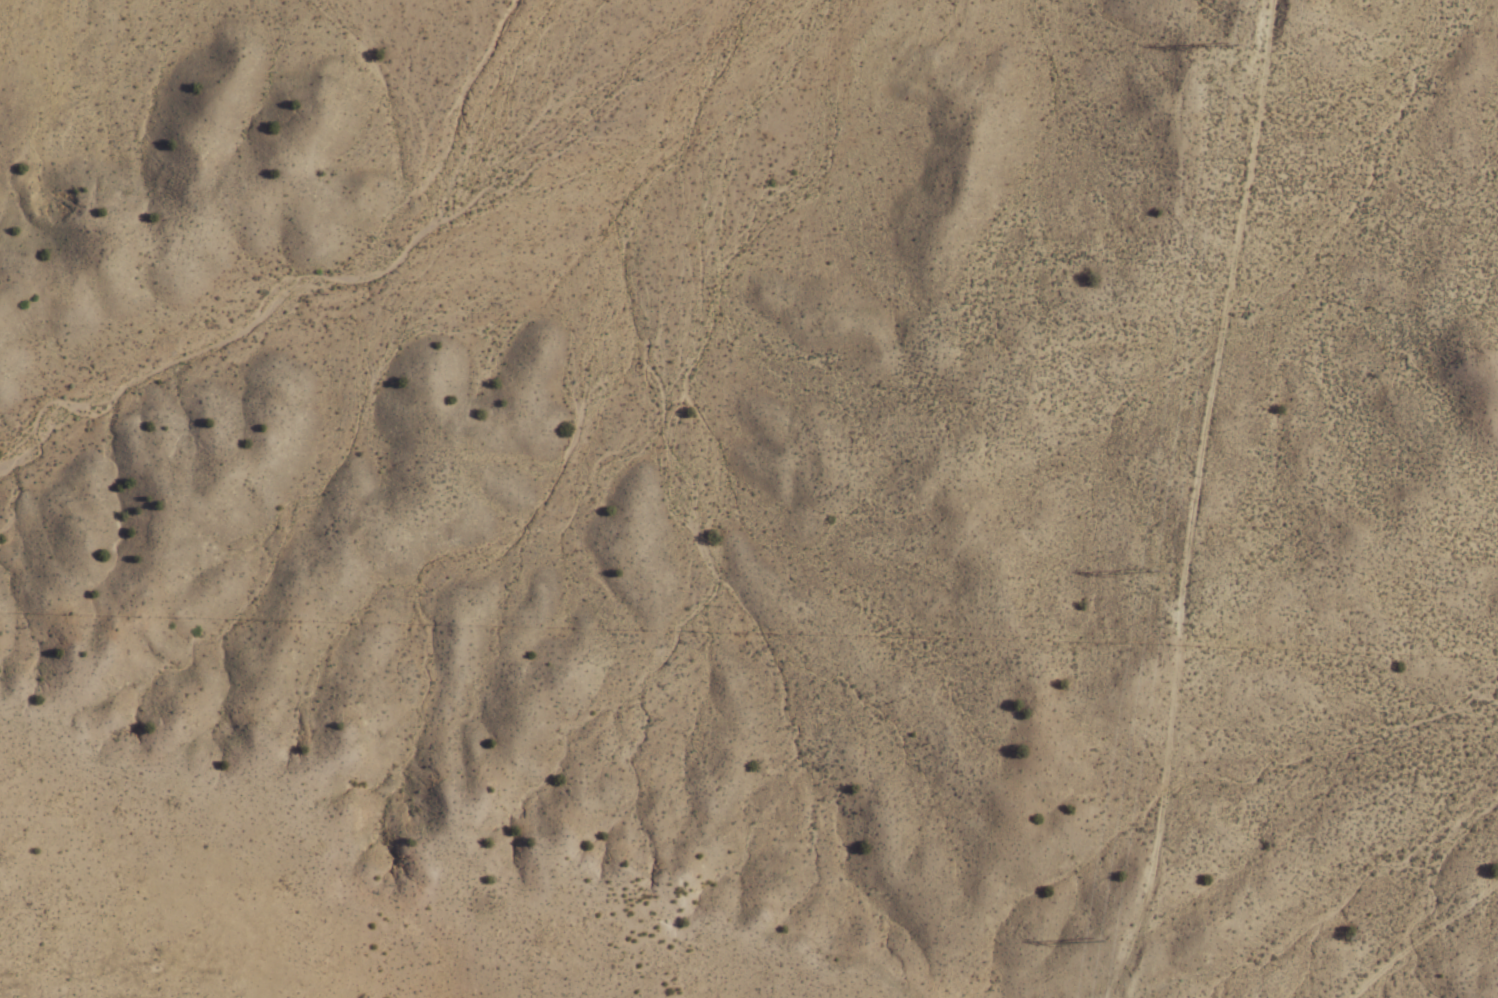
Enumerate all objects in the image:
power tower: (1240, 44)
power tower: (1165, 568)
power tower: (1106, 936)

